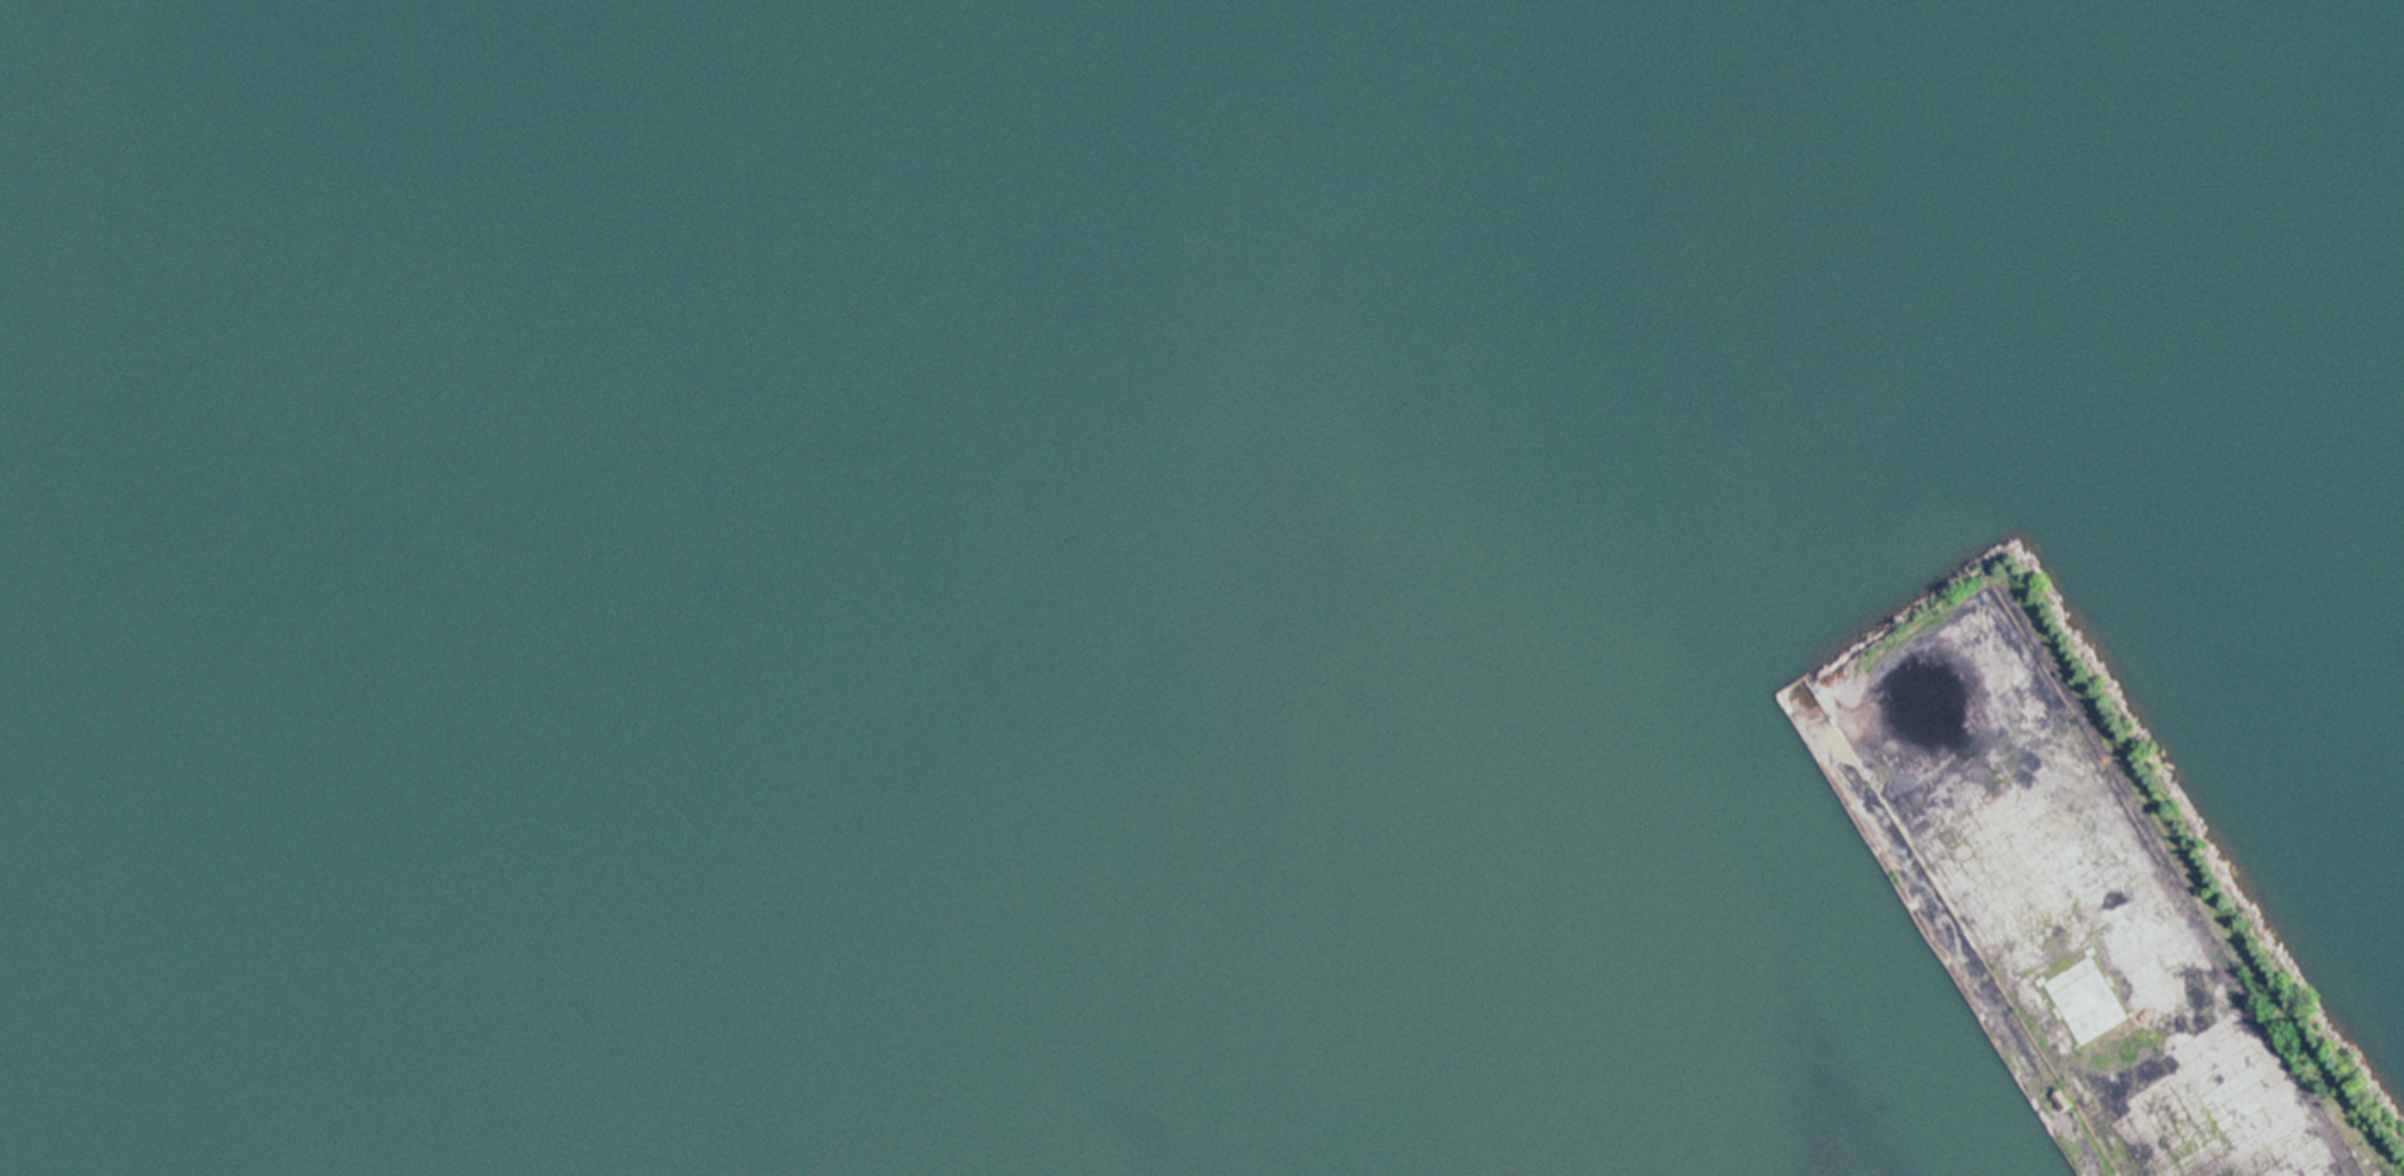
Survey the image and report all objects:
building: (2063, 1100)

